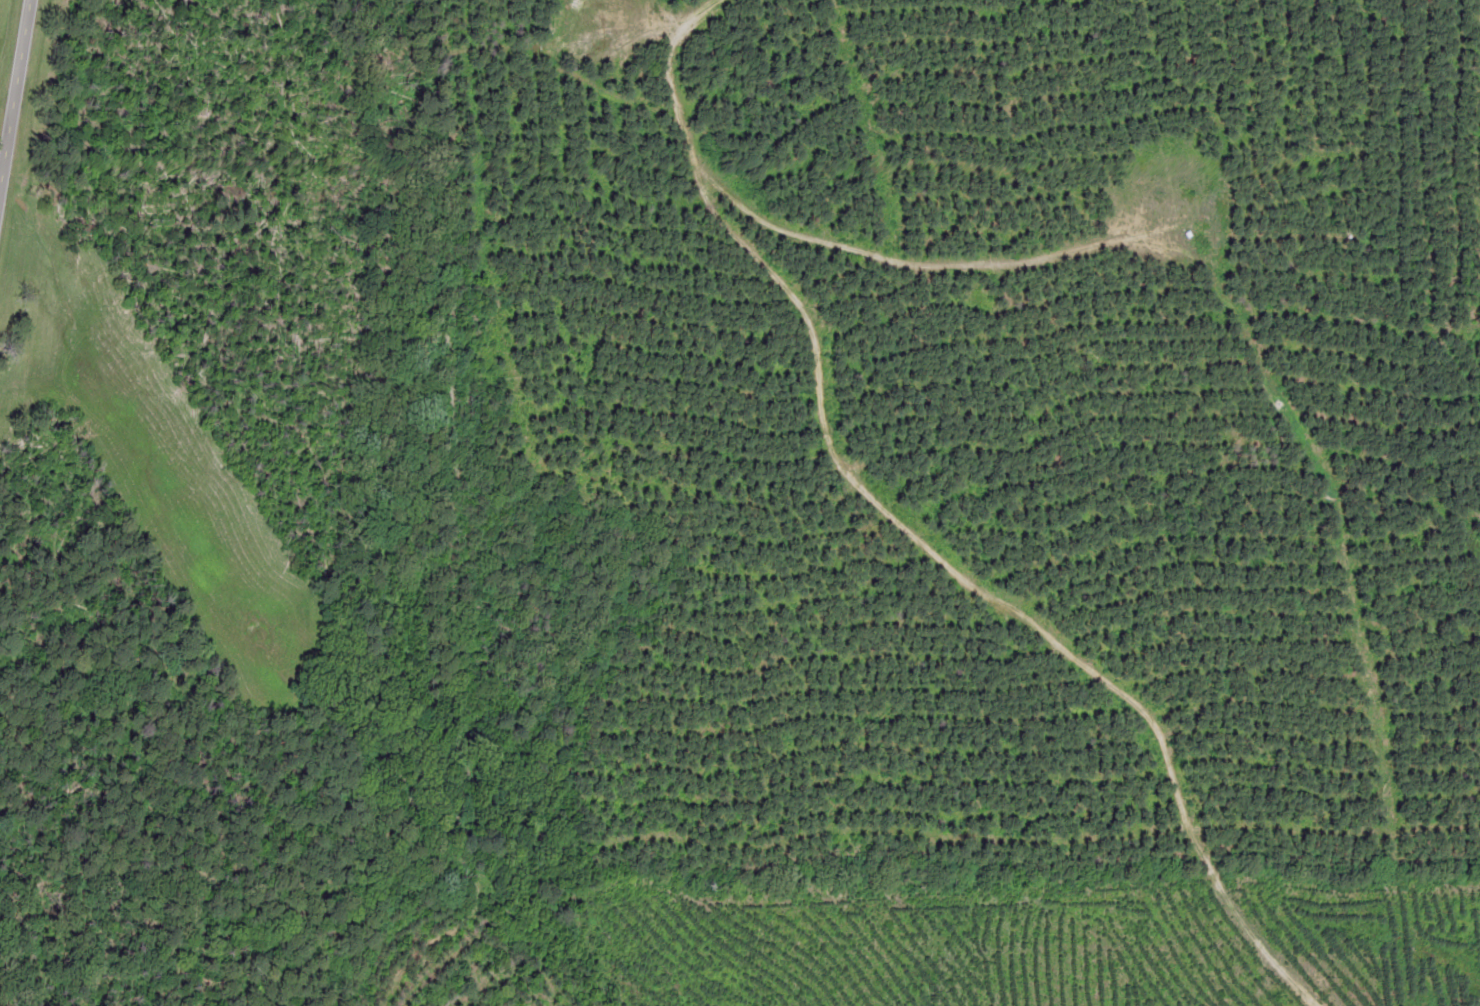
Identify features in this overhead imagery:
road: (13, 77)

